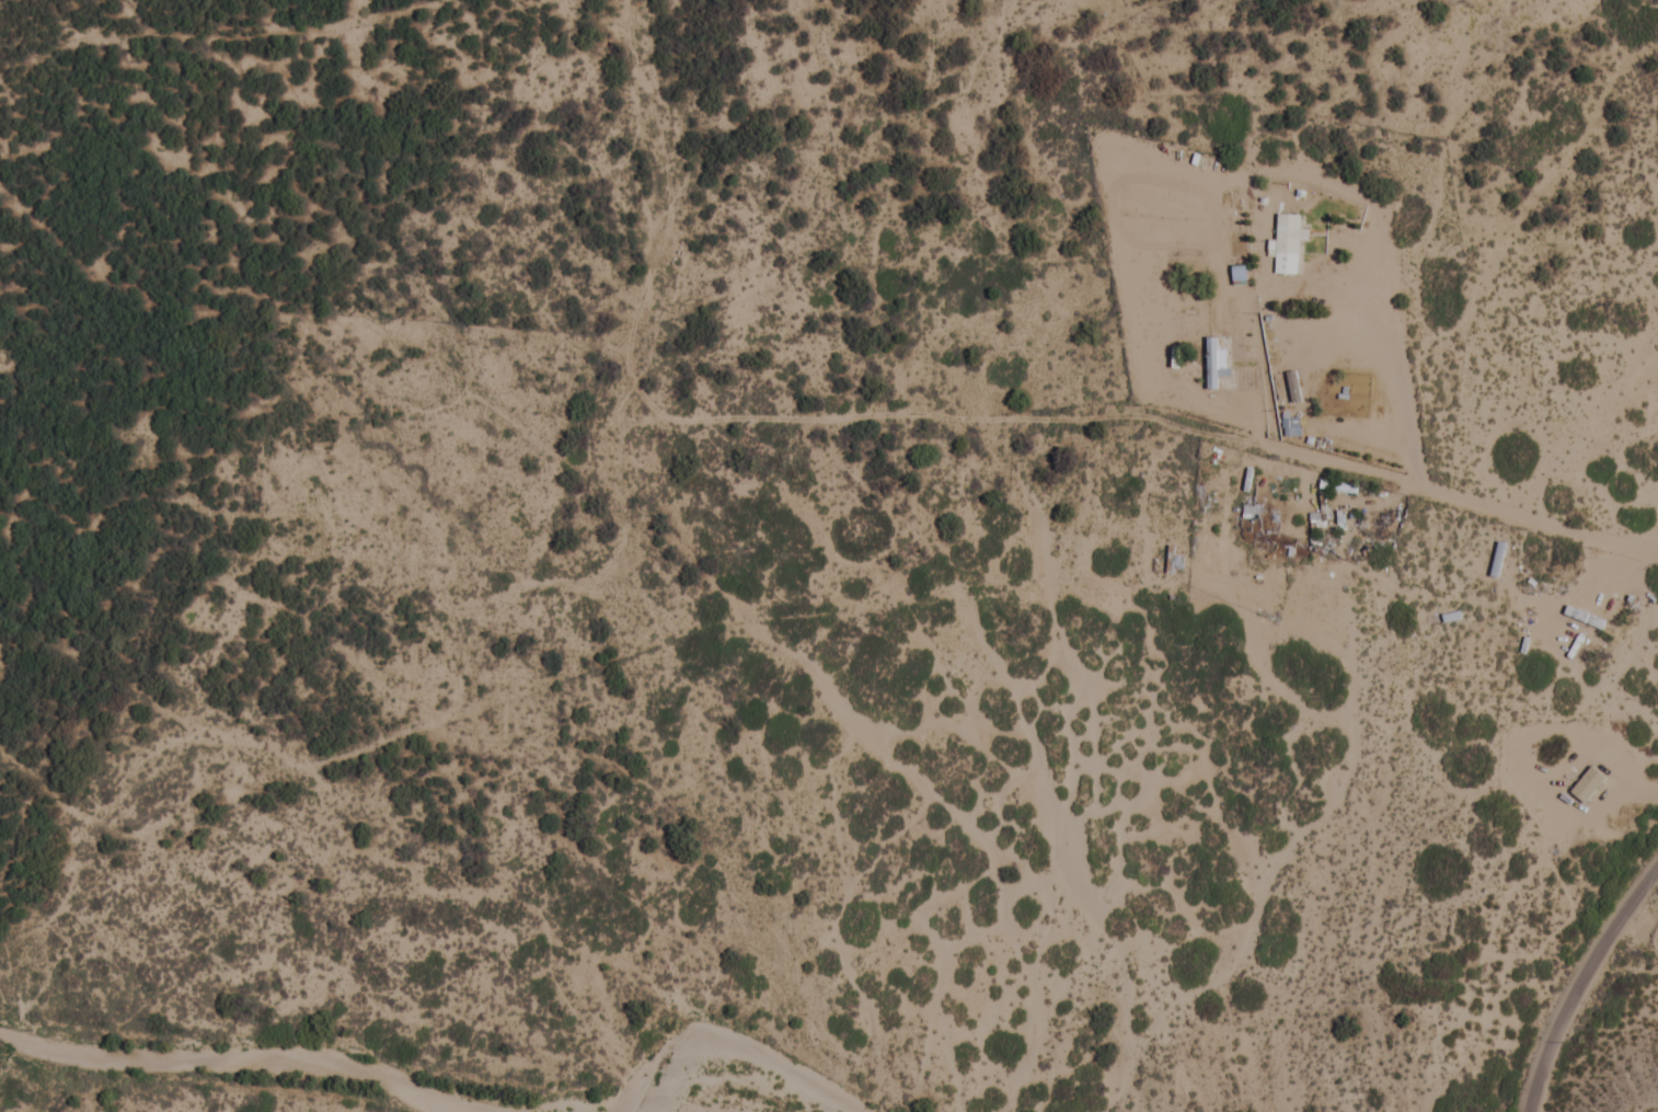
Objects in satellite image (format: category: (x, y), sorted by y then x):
road: (999, 149)
building: (1285, 245)
building: (1237, 275)
building: (1214, 364)
building: (1290, 428)
building: (1496, 561)
building: (1643, 626)
building: (1587, 787)
road: (1581, 826)
road: (1605, 996)

